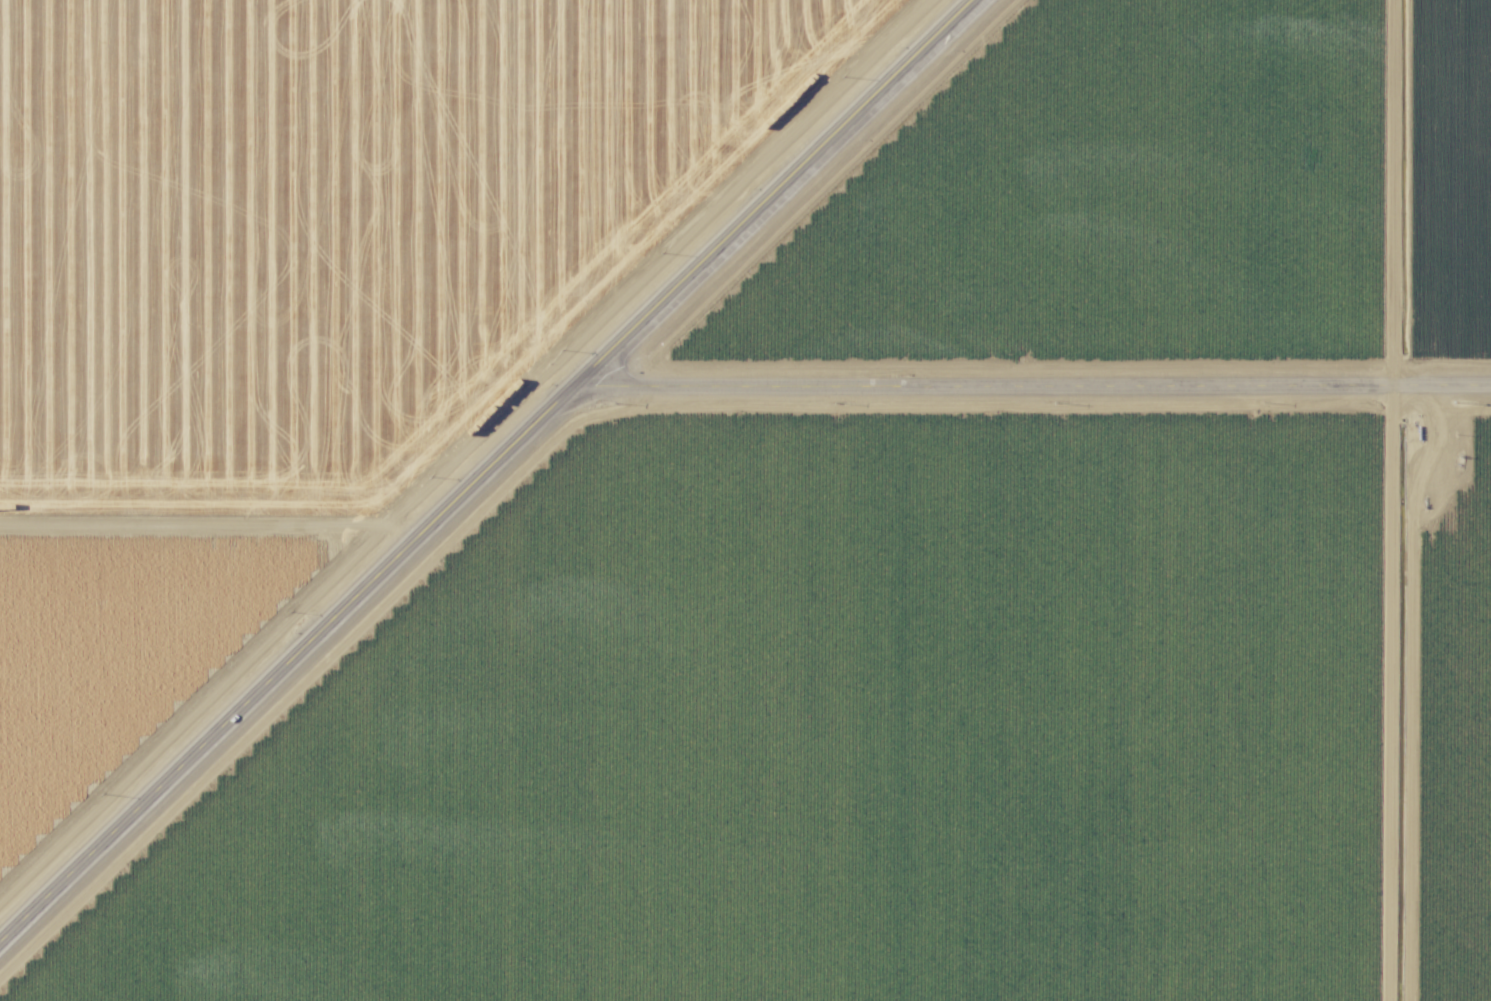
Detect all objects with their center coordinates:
road: (1043, 398)
road: (491, 474)
road: (1401, 500)

